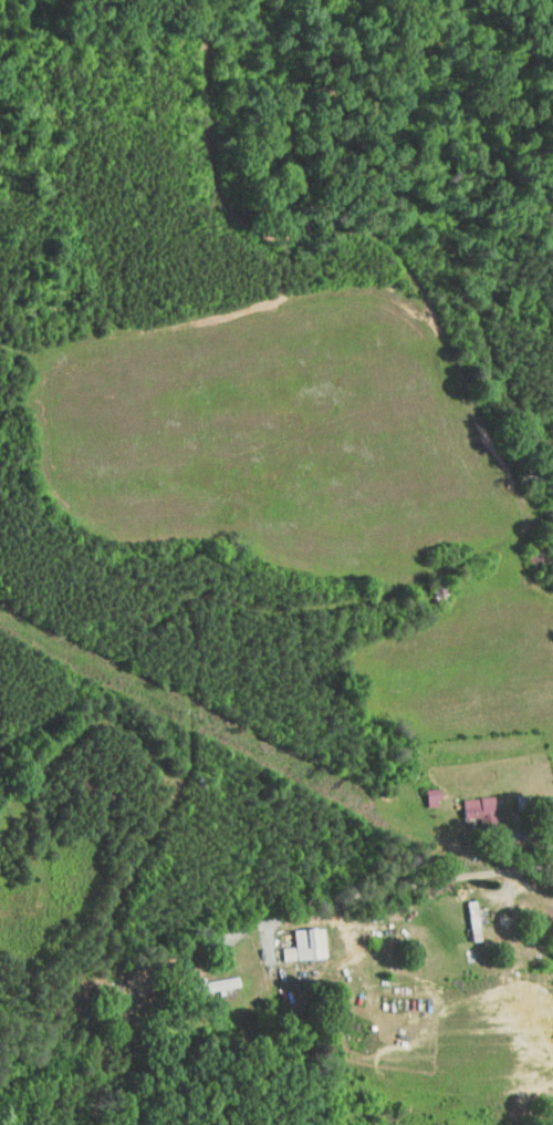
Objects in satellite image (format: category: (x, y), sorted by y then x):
building: (419, 788)
building: (467, 802)
road: (394, 887)
building: (296, 935)
building: (204, 977)

